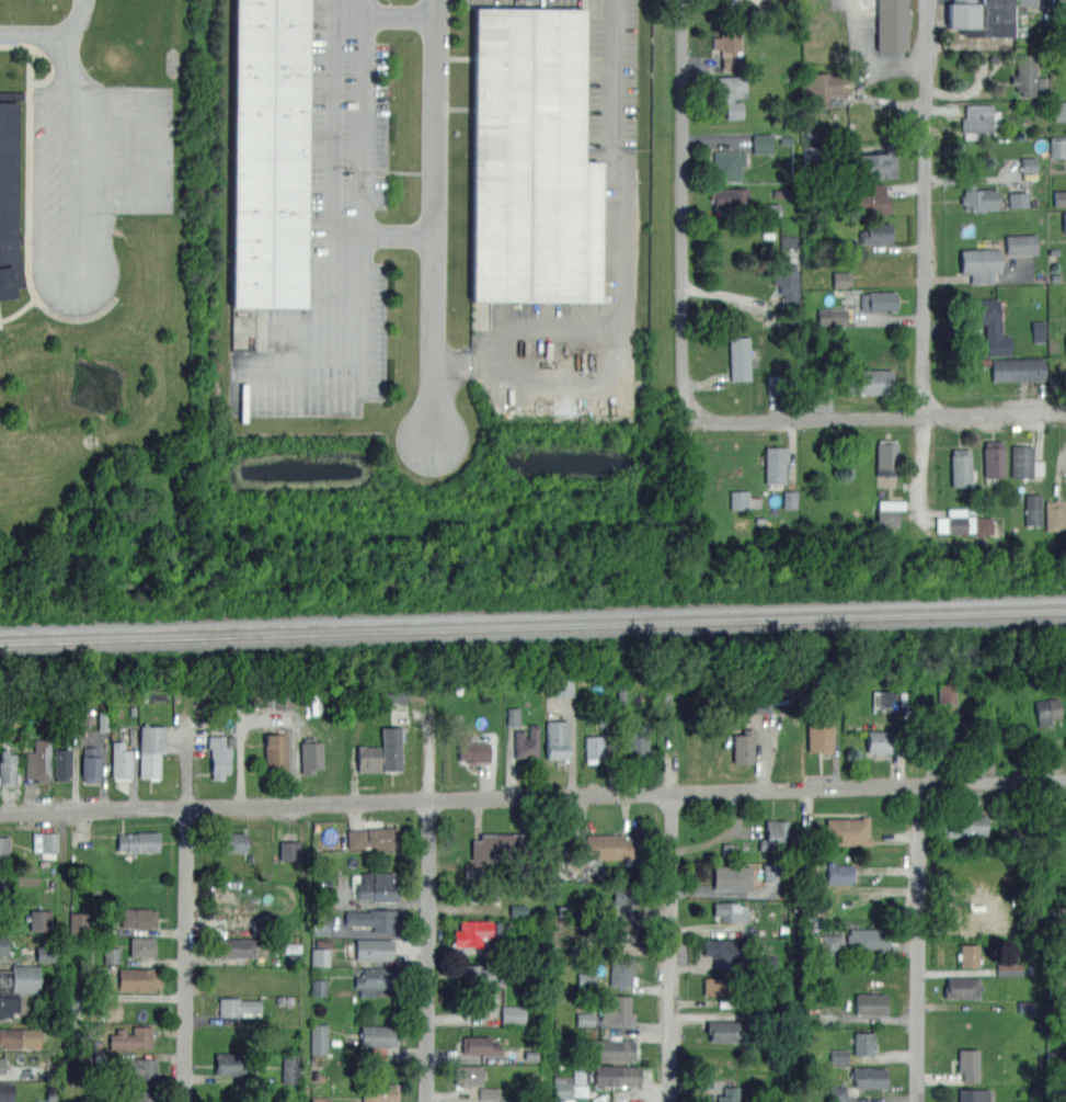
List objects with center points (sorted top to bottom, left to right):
building: (1061, 0)
building: (1025, 1)
parking lot: (748, 2)
road: (333, 9)
building: (981, 16)
parking lot: (860, 24)
building: (892, 25)
road: (53, 34)
building: (729, 47)
road: (867, 60)
building: (1023, 75)
building: (1043, 83)
building: (822, 89)
building: (731, 93)
road: (878, 102)
building: (1059, 111)
building: (977, 120)
road: (332, 127)
road: (365, 127)
road: (149, 144)
building: (761, 144)
building: (1057, 147)
building: (270, 152)
road: (74, 154)
building: (812, 155)
building: (535, 159)
building: (879, 162)
building: (727, 164)
building: (1029, 164)
parking lot: (94, 183)
building: (8, 194)
building: (727, 196)
building: (977, 197)
building: (872, 198)
building: (1059, 198)
building: (1018, 200)
road: (435, 221)
building: (1064, 221)
parking lot: (620, 229)
building: (875, 232)
parking lot: (331, 235)
building: (789, 241)
building: (1021, 245)
road: (683, 253)
road: (925, 260)
building: (979, 263)
road: (610, 269)
building: (841, 280)
building: (787, 291)
building: (878, 300)
building: (832, 316)
building: (987, 323)
building: (1039, 331)
building: (1065, 338)
road: (332, 348)
building: (738, 357)
building: (1018, 370)
building: (868, 380)
building: (775, 385)
road: (876, 419)
building: (885, 456)
building: (994, 459)
building: (1024, 462)
building: (775, 464)
building: (961, 467)
building: (740, 499)
building: (790, 499)
building: (891, 504)
building: (1033, 510)
building: (1055, 514)
building: (887, 518)
building: (963, 523)
railway: (532, 617)
railway: (532, 627)
building: (560, 686)
building: (947, 692)
building: (884, 698)
building: (284, 703)
building: (756, 704)
building: (1046, 709)
building: (513, 716)
road: (266, 719)
building: (953, 732)
building: (819, 735)
building: (635, 738)
building: (557, 739)
building: (878, 740)
building: (526, 741)
building: (391, 746)
building: (742, 746)
building: (593, 747)
building: (150, 749)
road: (428, 749)
building: (472, 751)
building: (275, 752)
building: (310, 756)
building: (218, 757)
building: (368, 758)
building: (121, 760)
building: (38, 761)
building: (60, 763)
building: (90, 763)
building: (7, 768)
road: (532, 795)
building: (964, 821)
building: (847, 830)
road: (722, 836)
building: (776, 836)
building: (371, 838)
building: (139, 840)
building: (230, 841)
building: (45, 842)
building: (500, 845)
building: (603, 845)
building: (3, 848)
building: (289, 850)
building: (474, 871)
building: (838, 873)
building: (771, 874)
road: (670, 876)
building: (731, 879)
building: (2, 886)
building: (379, 886)
building: (479, 893)
building: (627, 895)
building: (817, 899)
building: (620, 906)
building: (729, 910)
road: (185, 912)
building: (138, 917)
building: (376, 919)
building: (970, 920)
road: (917, 921)
building: (78, 922)
building: (627, 931)
building: (471, 932)
building: (868, 938)
building: (830, 944)
building: (3, 945)
building: (141, 945)
building: (236, 947)
building: (725, 947)
building: (374, 948)
road: (426, 950)
building: (45, 954)
building: (111, 955)
building: (968, 955)
building: (320, 956)
building: (768, 962)
building: (1009, 968)
building: (621, 970)
building: (484, 974)
building: (136, 978)
building: (375, 979)
building: (586, 980)
building: (15, 985)
building: (714, 986)
building: (319, 987)
building: (961, 987)
building: (870, 1003)
building: (236, 1006)
building: (617, 1008)
building: (513, 1015)
building: (585, 1019)
building: (733, 1026)
building: (378, 1035)
building: (20, 1036)
building: (133, 1037)
building: (319, 1038)
building: (862, 1042)
building: (478, 1044)
building: (608, 1048)
building: (377, 1053)
building: (838, 1055)
building: (232, 1063)
building: (968, 1064)
building: (1, 1065)
building: (136, 1068)
building: (290, 1069)
building: (467, 1073)
building: (617, 1075)
building: (869, 1077)
building: (571, 1084)
building: (7, 1091)
building: (379, 1092)
building: (490, 1093)
building: (838, 1093)
building: (144, 1094)
building: (729, 1094)
building: (973, 1095)

